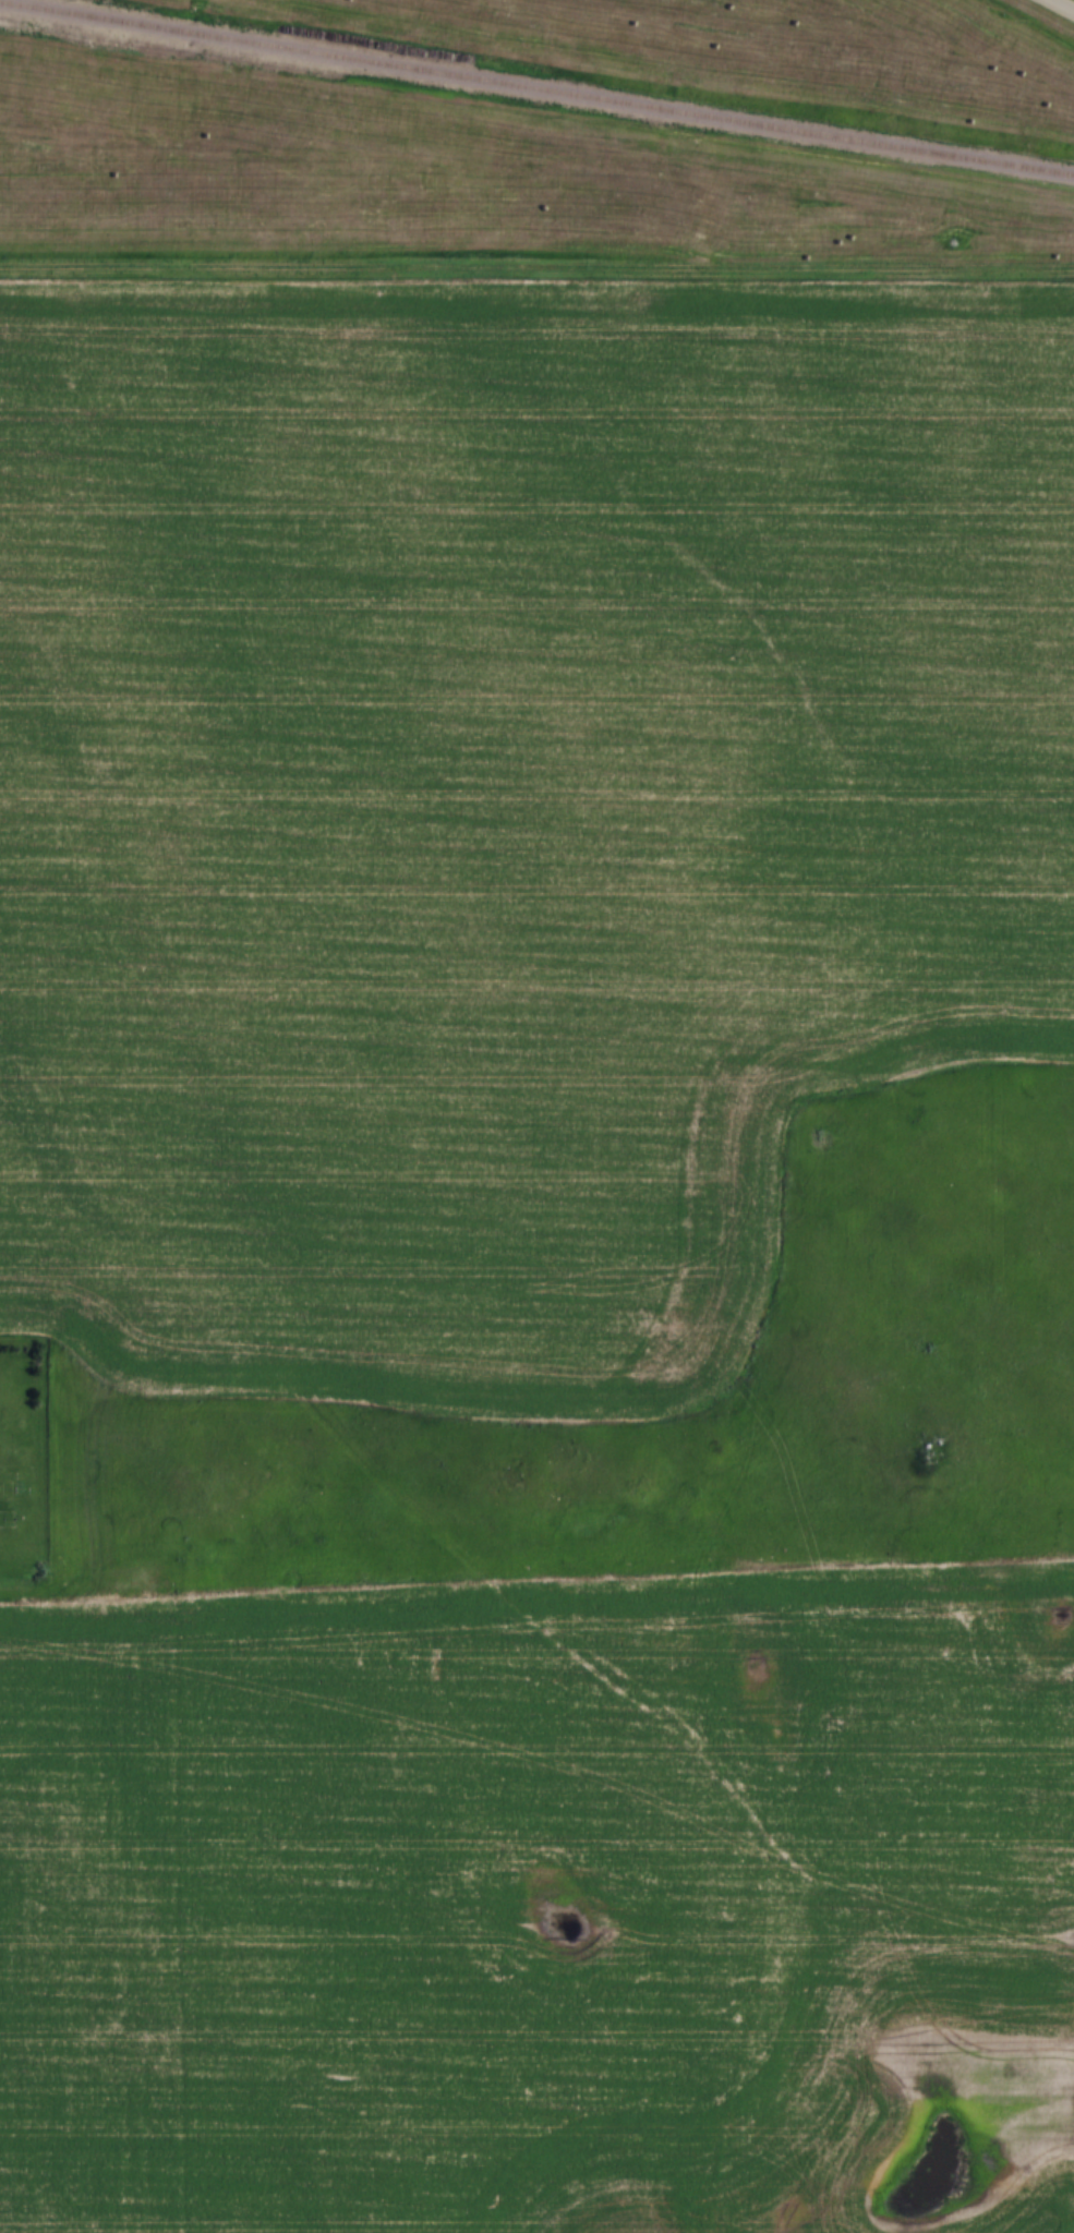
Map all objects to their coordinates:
road: (1066, 3)
railway: (538, 88)
road: (538, 309)

